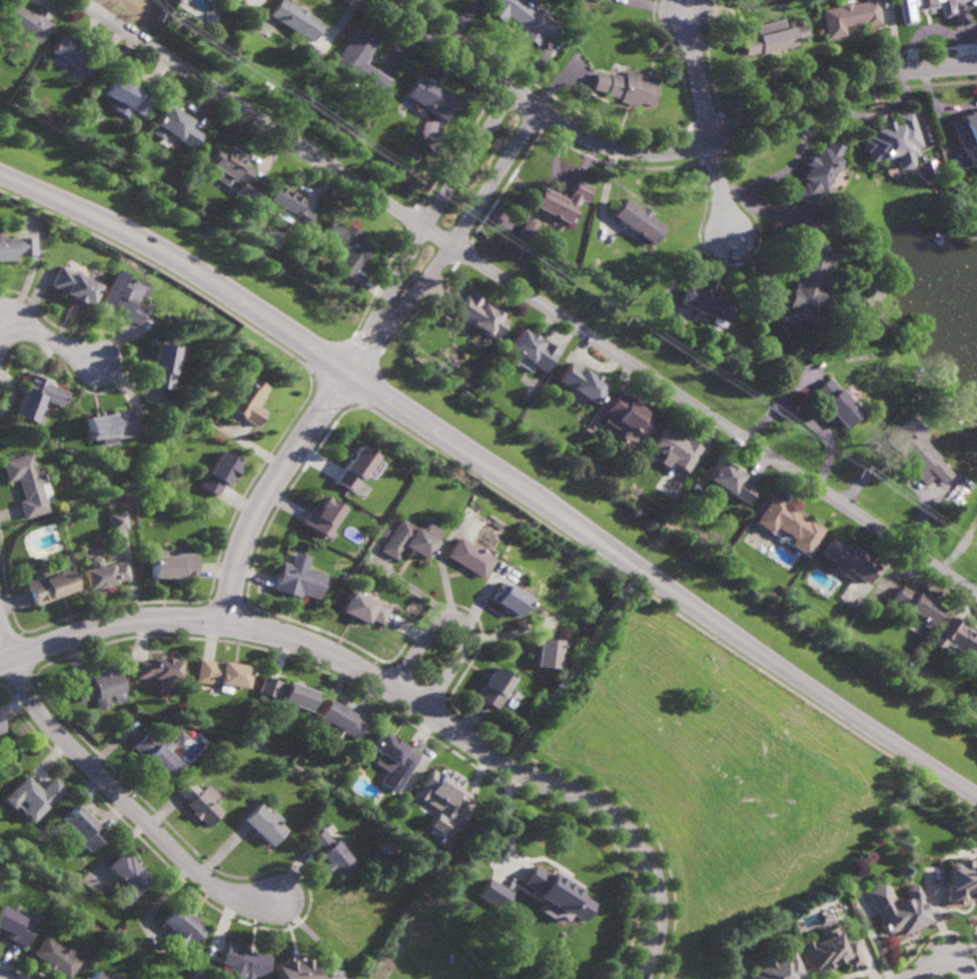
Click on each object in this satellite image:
road: (690, 5)
building: (907, 11)
building: (848, 16)
building: (523, 17)
building: (294, 19)
building: (24, 20)
building: (770, 38)
building: (68, 53)
building: (359, 62)
building: (627, 87)
building: (127, 94)
building: (431, 96)
road: (709, 121)
building: (176, 124)
building: (965, 133)
building: (889, 140)
road: (662, 151)
building: (231, 170)
building: (817, 171)
building: (973, 183)
building: (561, 201)
building: (285, 205)
building: (638, 222)
road: (423, 226)
building: (527, 230)
road: (451, 244)
building: (344, 246)
building: (16, 247)
building: (811, 277)
building: (75, 285)
building: (124, 297)
road: (529, 297)
building: (342, 303)
building: (708, 304)
building: (479, 316)
road: (48, 337)
building: (532, 350)
building: (164, 367)
building: (580, 384)
building: (37, 399)
building: (247, 402)
building: (835, 404)
building: (625, 416)
road: (807, 419)
building: (110, 427)
building: (675, 450)
building: (915, 452)
building: (355, 469)
road: (495, 470)
building: (220, 474)
building: (727, 481)
building: (128, 483)
building: (27, 484)
road: (272, 489)
building: (322, 517)
building: (116, 521)
building: (788, 525)
building: (382, 532)
building: (404, 540)
building: (468, 556)
building: (850, 558)
building: (171, 564)
building: (101, 572)
building: (297, 579)
building: (48, 585)
building: (508, 597)
building: (915, 605)
building: (362, 608)
road: (460, 619)
building: (957, 637)
road: (7, 638)
building: (547, 652)
building: (156, 669)
building: (221, 673)
building: (98, 687)
building: (491, 687)
building: (286, 693)
road: (400, 696)
building: (338, 721)
building: (1, 727)
building: (178, 736)
building: (155, 754)
building: (389, 760)
building: (33, 796)
building: (439, 797)
building: (398, 801)
road: (127, 803)
building: (195, 803)
building: (380, 815)
building: (263, 824)
building: (82, 827)
building: (330, 852)
building: (127, 876)
building: (960, 881)
building: (492, 894)
building: (558, 897)
building: (22, 910)
building: (898, 910)
building: (17, 925)
building: (179, 927)
building: (795, 927)
building: (827, 952)
building: (57, 958)
building: (243, 961)
building: (774, 966)
building: (296, 969)
road: (944, 972)
building: (97, 976)
road: (1, 978)
building: (118, 978)

